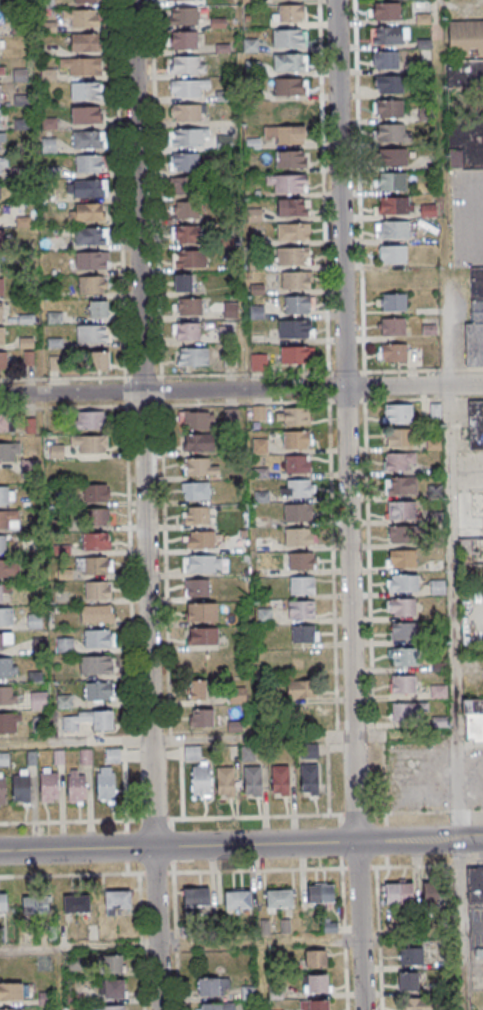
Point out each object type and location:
building: (183, 0)
building: (86, 1)
building: (386, 11)
building: (289, 13)
building: (184, 16)
building: (80, 18)
building: (386, 35)
building: (289, 38)
building: (465, 38)
building: (184, 40)
building: (84, 42)
building: (1, 44)
building: (385, 59)
building: (290, 63)
building: (187, 65)
building: (82, 66)
building: (1, 68)
building: (389, 84)
building: (187, 87)
building: (291, 87)
building: (86, 90)
building: (0, 93)
building: (389, 108)
building: (188, 113)
building: (465, 113)
building: (86, 115)
building: (0, 117)
building: (394, 133)
building: (285, 136)
building: (88, 139)
building: (188, 139)
building: (2, 141)
building: (223, 144)
building: (393, 157)
building: (290, 161)
building: (90, 163)
building: (183, 163)
building: (3, 165)
building: (392, 181)
building: (288, 184)
building: (181, 187)
building: (86, 188)
building: (0, 190)
building: (396, 205)
building: (292, 208)
building: (185, 210)
building: (86, 211)
building: (428, 211)
parking lot: (466, 216)
road: (476, 221)
building: (392, 230)
building: (293, 233)
building: (186, 234)
building: (90, 236)
building: (1, 238)
building: (392, 255)
building: (293, 257)
building: (189, 259)
building: (91, 261)
building: (295, 281)
building: (182, 283)
building: (1, 286)
building: (91, 286)
building: (392, 303)
building: (188, 306)
building: (297, 306)
building: (97, 310)
building: (1, 311)
building: (54, 318)
building: (475, 320)
building: (392, 328)
building: (294, 330)
building: (186, 331)
building: (221, 334)
building: (1, 335)
building: (92, 335)
road: (454, 338)
building: (54, 343)
building: (392, 353)
building: (191, 356)
building: (294, 356)
building: (3, 360)
building: (98, 361)
building: (258, 363)
building: (53, 364)
road: (241, 390)
building: (258, 414)
building: (398, 414)
building: (230, 415)
building: (293, 417)
building: (197, 419)
building: (92, 420)
building: (6, 423)
building: (475, 425)
building: (400, 439)
building: (296, 440)
building: (197, 442)
building: (90, 443)
building: (57, 452)
building: (17, 458)
building: (399, 461)
building: (297, 464)
building: (200, 467)
building: (400, 486)
building: (299, 489)
building: (196, 490)
building: (96, 493)
building: (6, 495)
road: (144, 505)
road: (348, 505)
building: (402, 510)
building: (297, 513)
building: (196, 515)
building: (97, 516)
building: (9, 520)
building: (403, 534)
building: (298, 537)
building: (473, 539)
building: (203, 540)
building: (95, 542)
building: (2, 544)
building: (403, 559)
building: (301, 561)
building: (202, 563)
building: (94, 566)
building: (9, 568)
building: (402, 583)
building: (301, 586)
building: (196, 587)
building: (437, 587)
building: (3, 589)
building: (97, 591)
building: (402, 607)
building: (301, 610)
building: (201, 612)
road: (452, 612)
building: (96, 615)
building: (6, 617)
building: (34, 621)
building: (404, 630)
building: (303, 635)
building: (202, 636)
building: (5, 640)
building: (97, 640)
building: (64, 646)
building: (403, 657)
building: (95, 666)
building: (7, 668)
building: (403, 684)
building: (300, 689)
building: (197, 690)
building: (98, 692)
building: (7, 696)
building: (38, 701)
building: (63, 702)
building: (471, 705)
building: (409, 712)
building: (201, 717)
building: (87, 721)
building: (9, 724)
building: (473, 727)
building: (309, 751)
building: (112, 756)
building: (85, 757)
building: (3, 760)
building: (198, 772)
building: (280, 780)
building: (252, 781)
building: (309, 781)
building: (225, 782)
building: (76, 785)
building: (105, 785)
building: (21, 786)
building: (49, 786)
building: (2, 790)
road: (241, 817)
road: (465, 840)
road: (224, 846)
road: (224, 871)
building: (475, 887)
building: (320, 893)
building: (436, 893)
building: (398, 894)
building: (196, 899)
building: (279, 899)
building: (117, 900)
building: (237, 901)
building: (2, 902)
building: (75, 903)
building: (34, 904)
road: (461, 925)
road: (180, 943)
building: (478, 952)
building: (410, 955)
building: (315, 959)
building: (74, 963)
building: (114, 964)
road: (57, 978)
building: (408, 981)
building: (316, 984)
building: (208, 987)
building: (113, 989)
building: (11, 991)
building: (248, 992)
building: (416, 1004)
building: (314, 1005)
building: (215, 1006)
building: (109, 1008)
building: (12, 1009)

